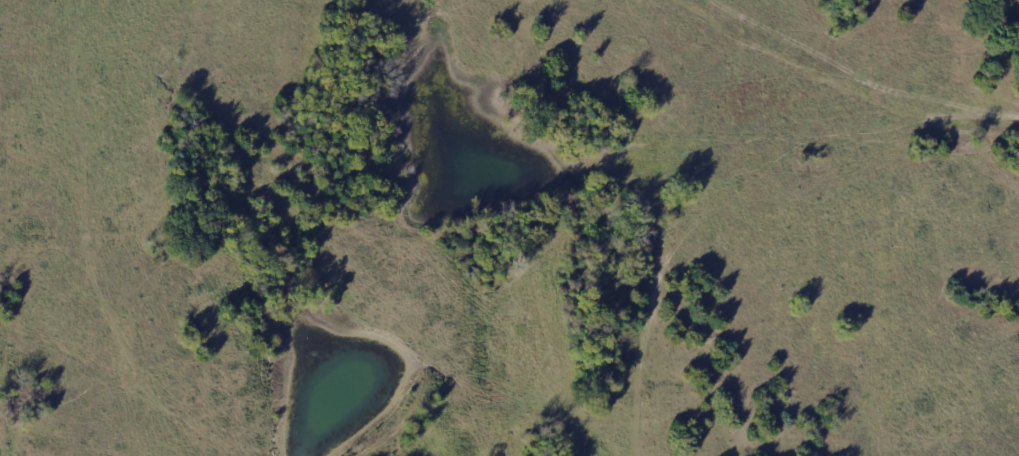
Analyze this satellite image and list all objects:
road: (841, 54)

